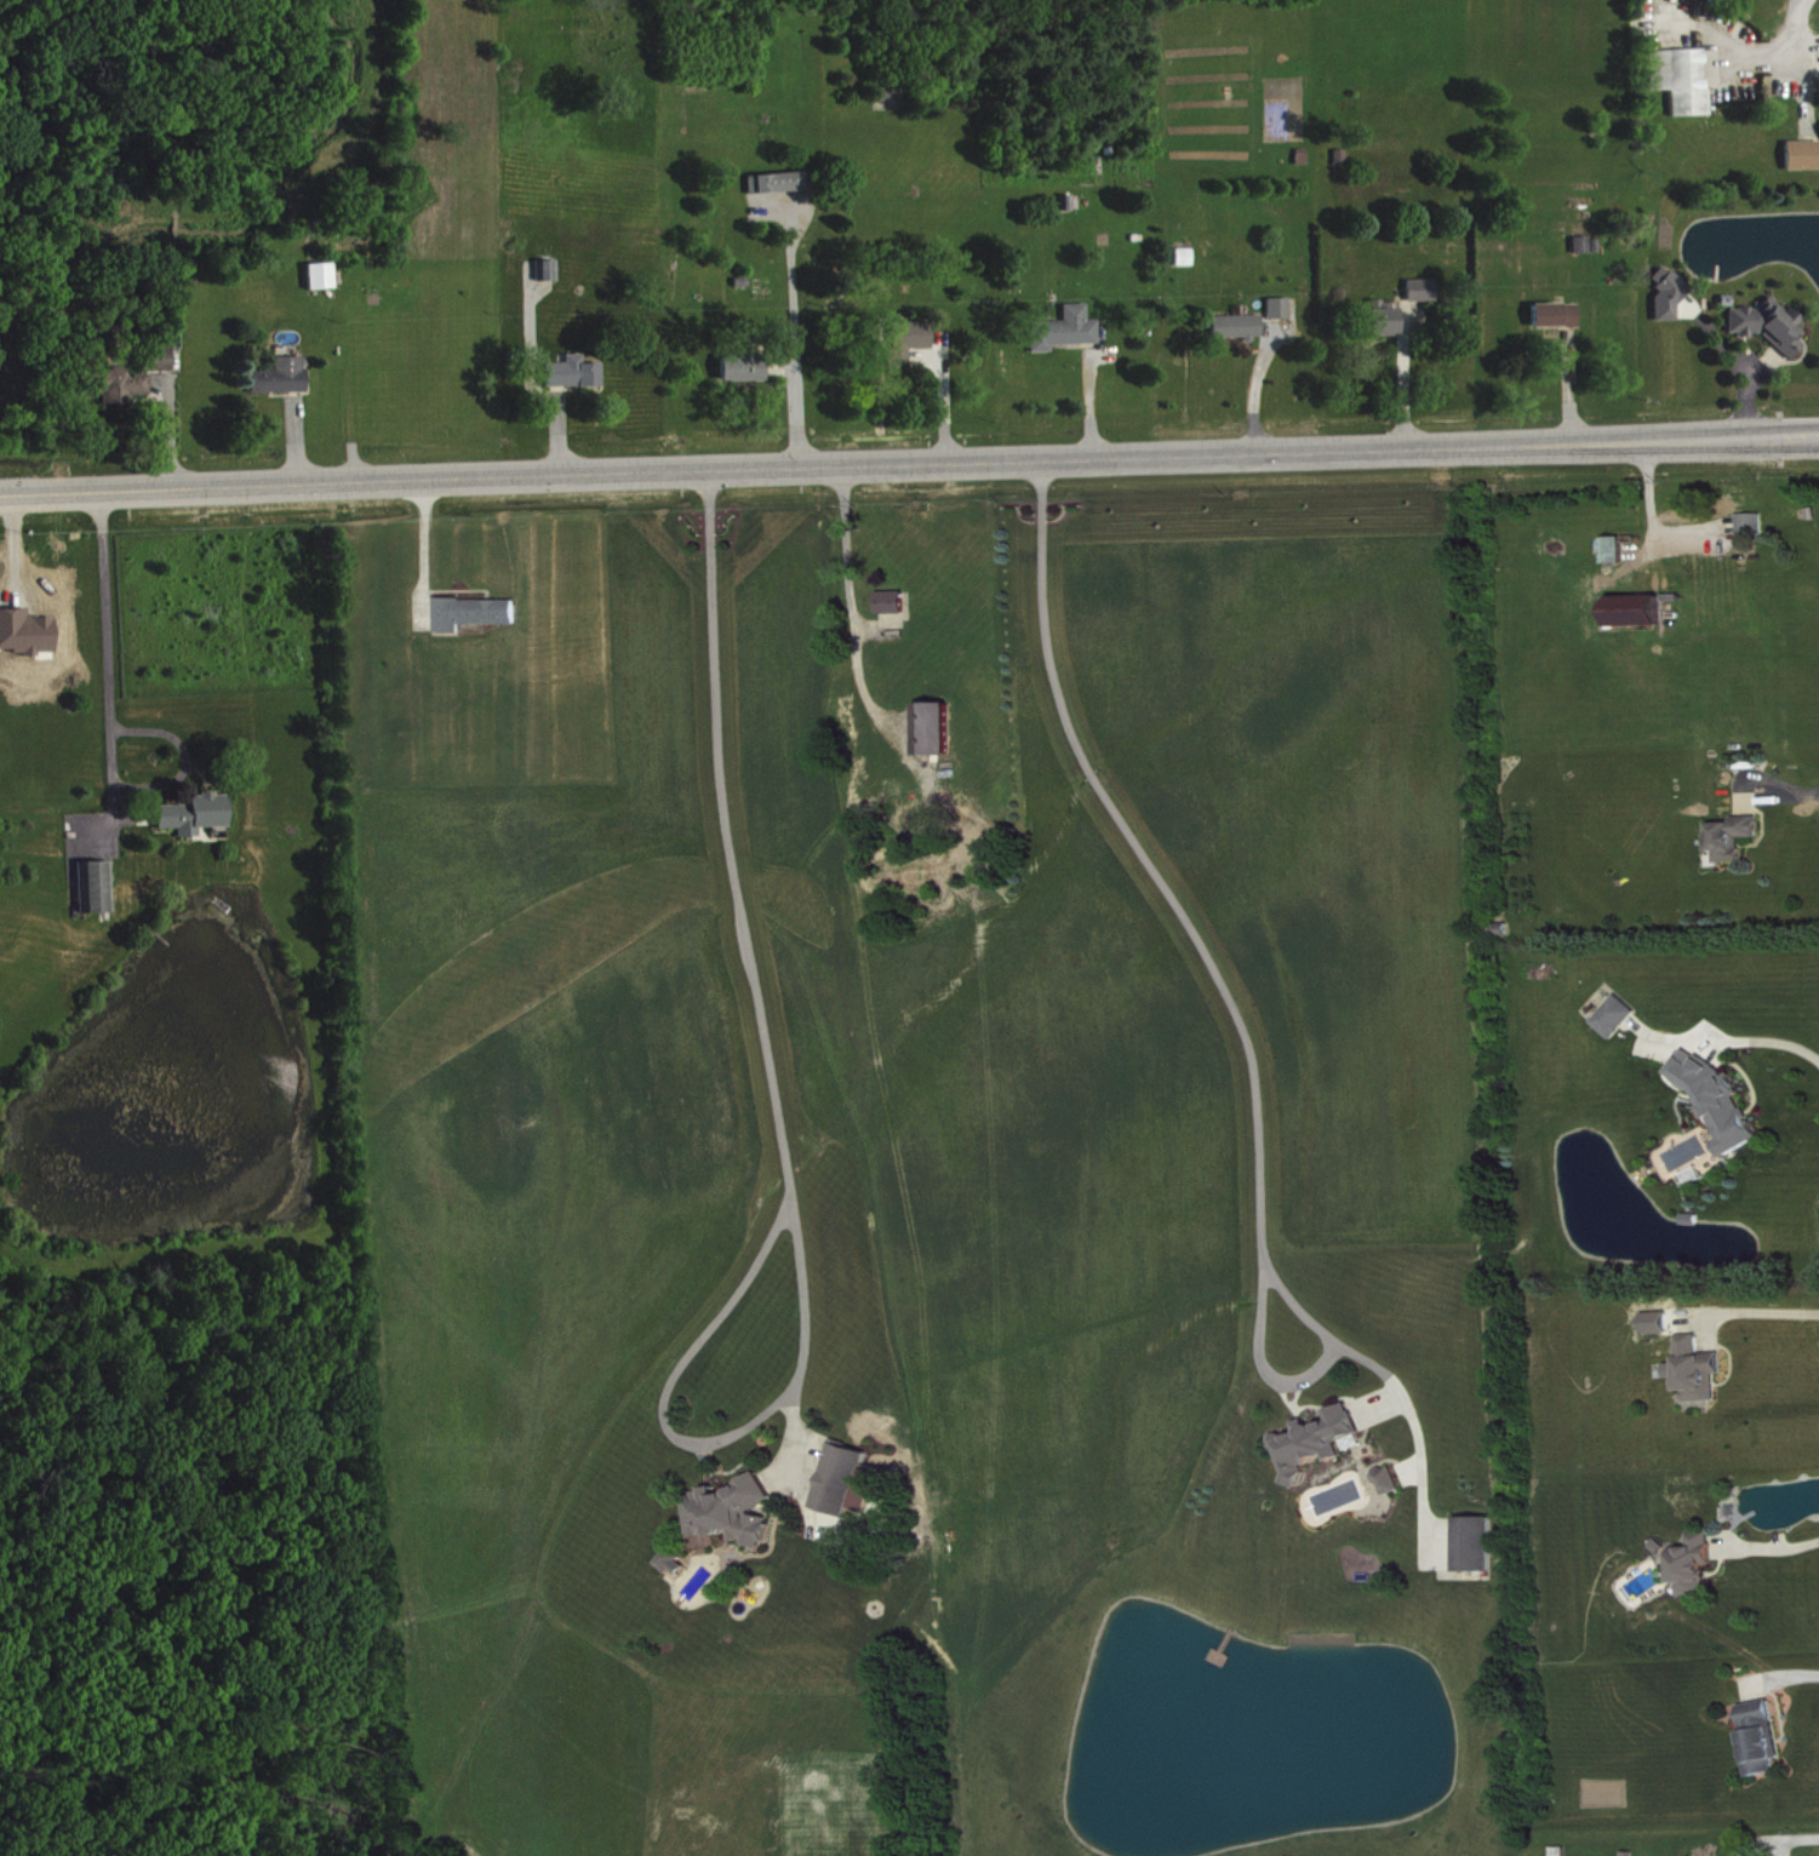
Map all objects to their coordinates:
road: (1797, 25)
building: (1683, 79)
building: (1803, 155)
building: (778, 182)
building: (1589, 245)
building: (1186, 257)
building: (549, 270)
building: (322, 275)
building: (1424, 290)
building: (1671, 296)
building: (1281, 308)
building: (1558, 315)
building: (1386, 319)
building: (1772, 325)
building: (1239, 326)
building: (1068, 330)
building: (910, 340)
road: (789, 345)
building: (747, 368)
building: (576, 372)
building: (284, 376)
building: (132, 377)
road: (909, 462)
building: (1755, 523)
road: (425, 544)
building: (1615, 549)
road: (848, 597)
building: (897, 602)
building: (1640, 609)
building: (480, 613)
road: (110, 634)
building: (940, 728)
road: (1786, 792)
building: (198, 814)
building: (1738, 837)
building: (98, 887)
road: (1229, 990)
building: (1619, 1016)
road: (1771, 1038)
building: (1723, 1100)
road: (779, 1132)
road: (1761, 1311)
building: (1660, 1322)
building: (1700, 1369)
building: (1321, 1442)
building: (837, 1474)
building: (1392, 1480)
building: (728, 1507)
building: (1480, 1543)
road: (1771, 1546)
building: (667, 1557)
building: (677, 1563)
building: (1700, 1564)
road: (1791, 1673)
building: (1767, 1737)
road: (1790, 1837)
building: (1697, 1855)

